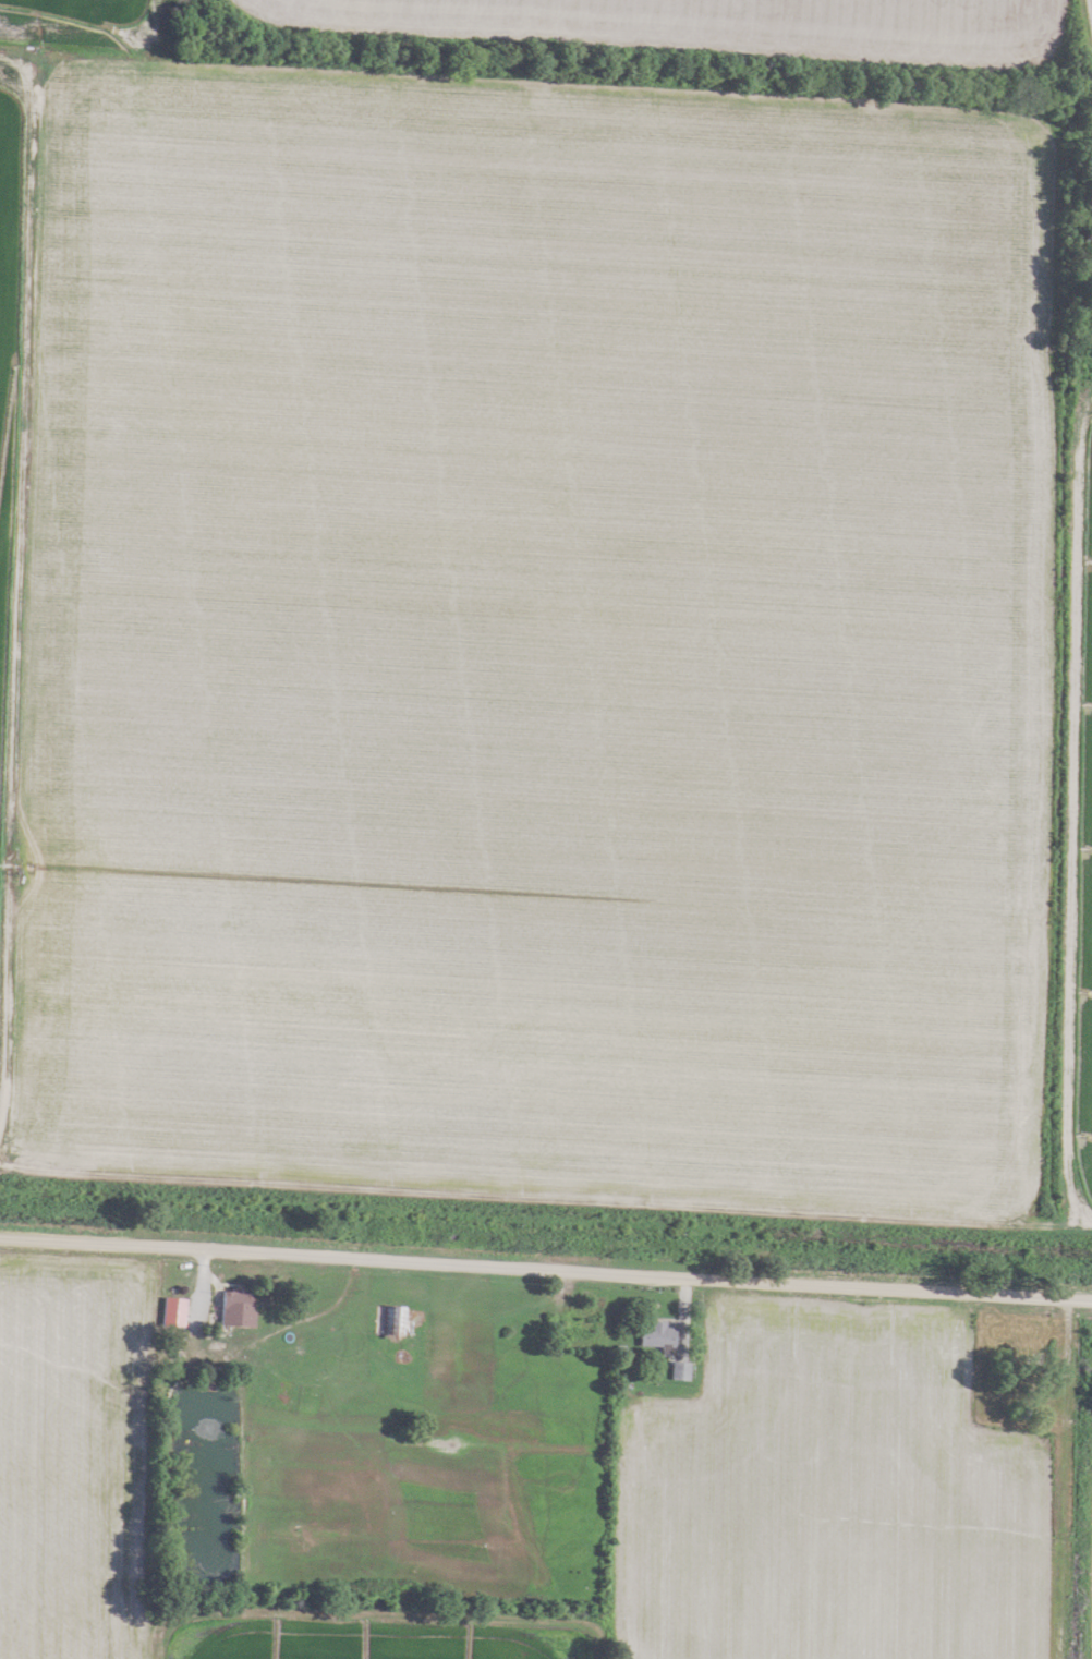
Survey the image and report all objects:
road: (545, 1269)
building: (232, 1307)
building: (389, 1320)
building: (580, 1323)
building: (653, 1335)
building: (677, 1370)

